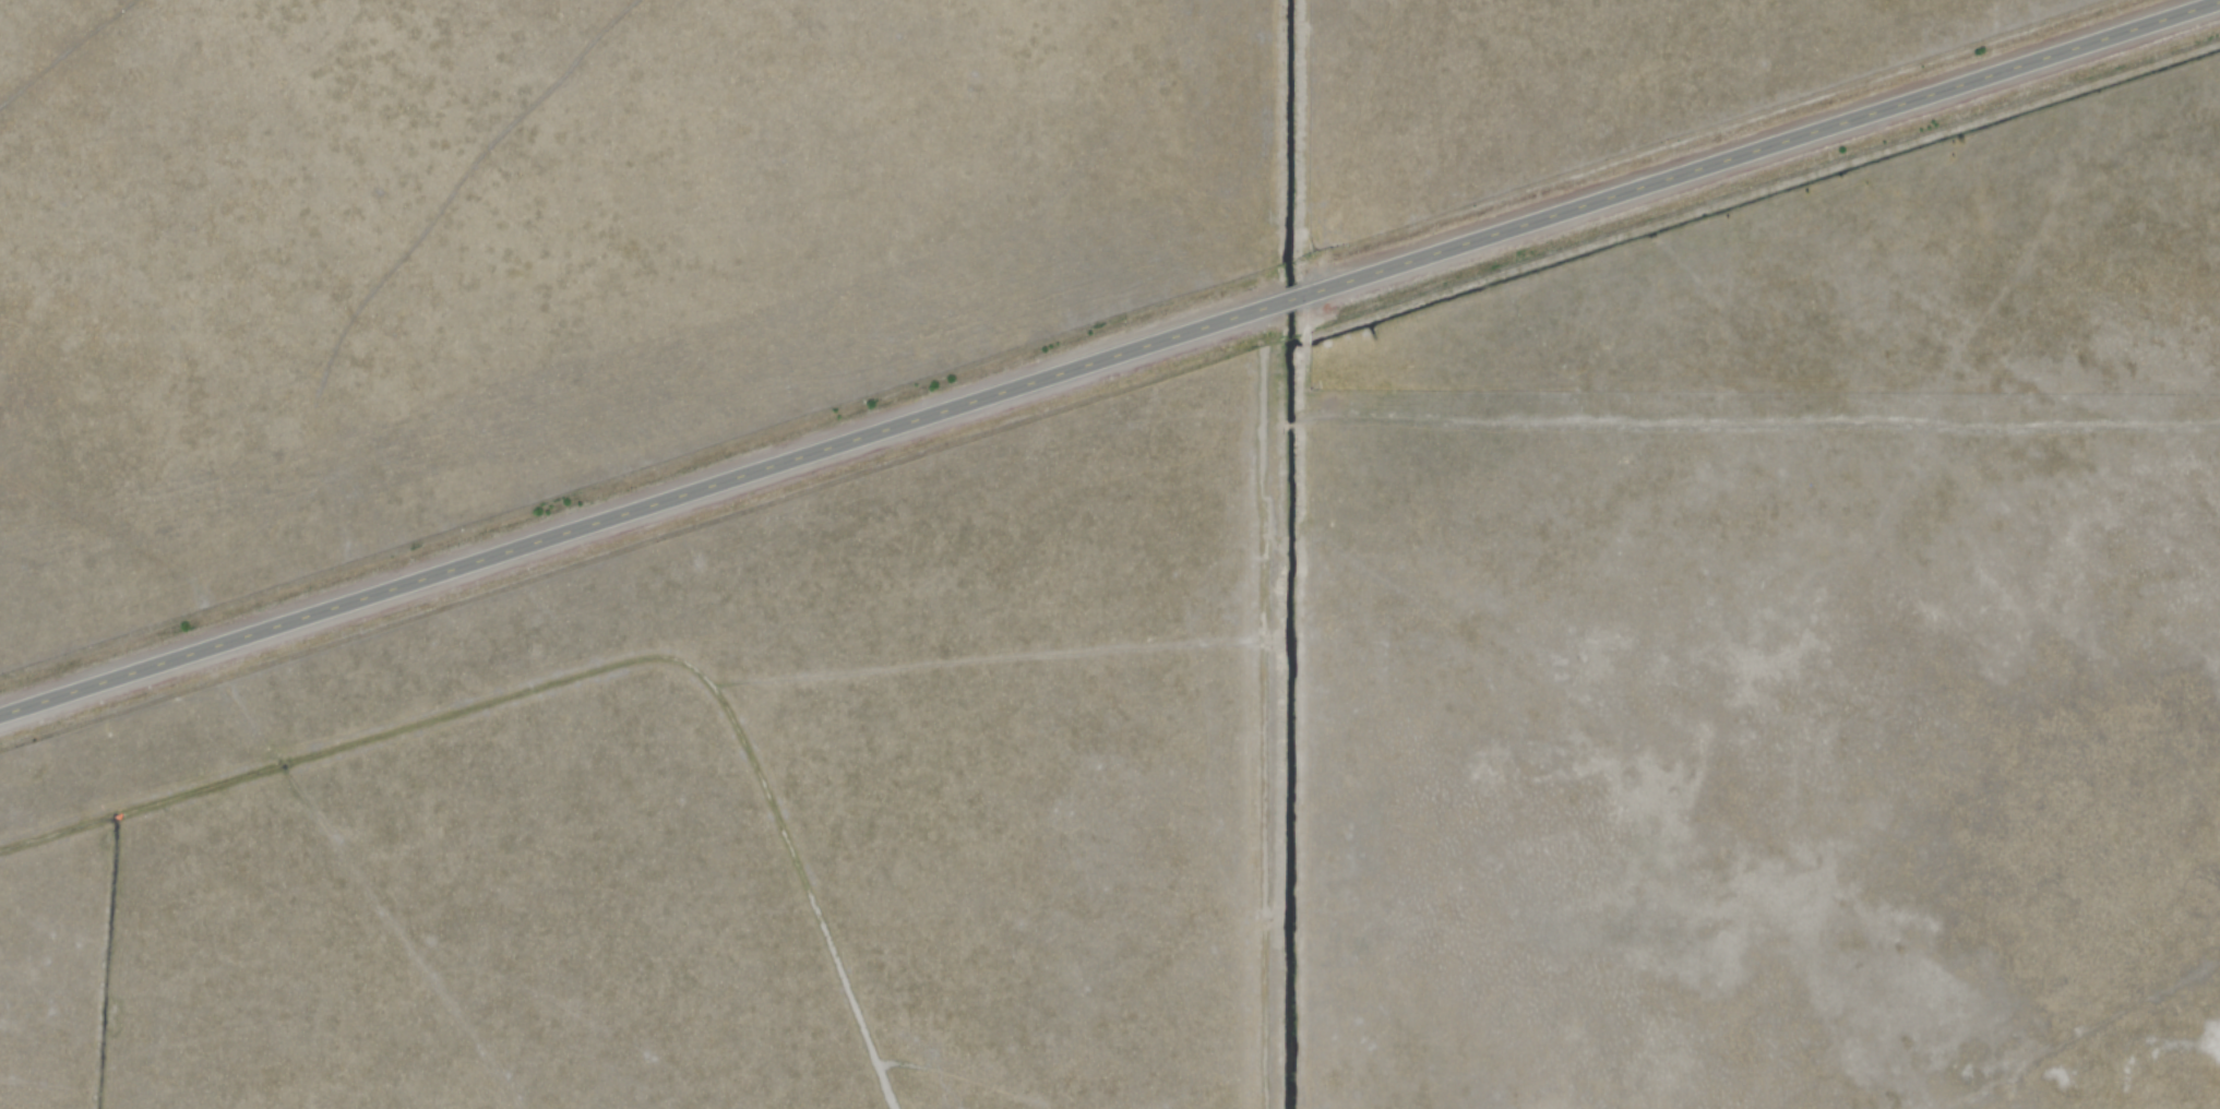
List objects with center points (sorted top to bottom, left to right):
road: (1107, 356)

